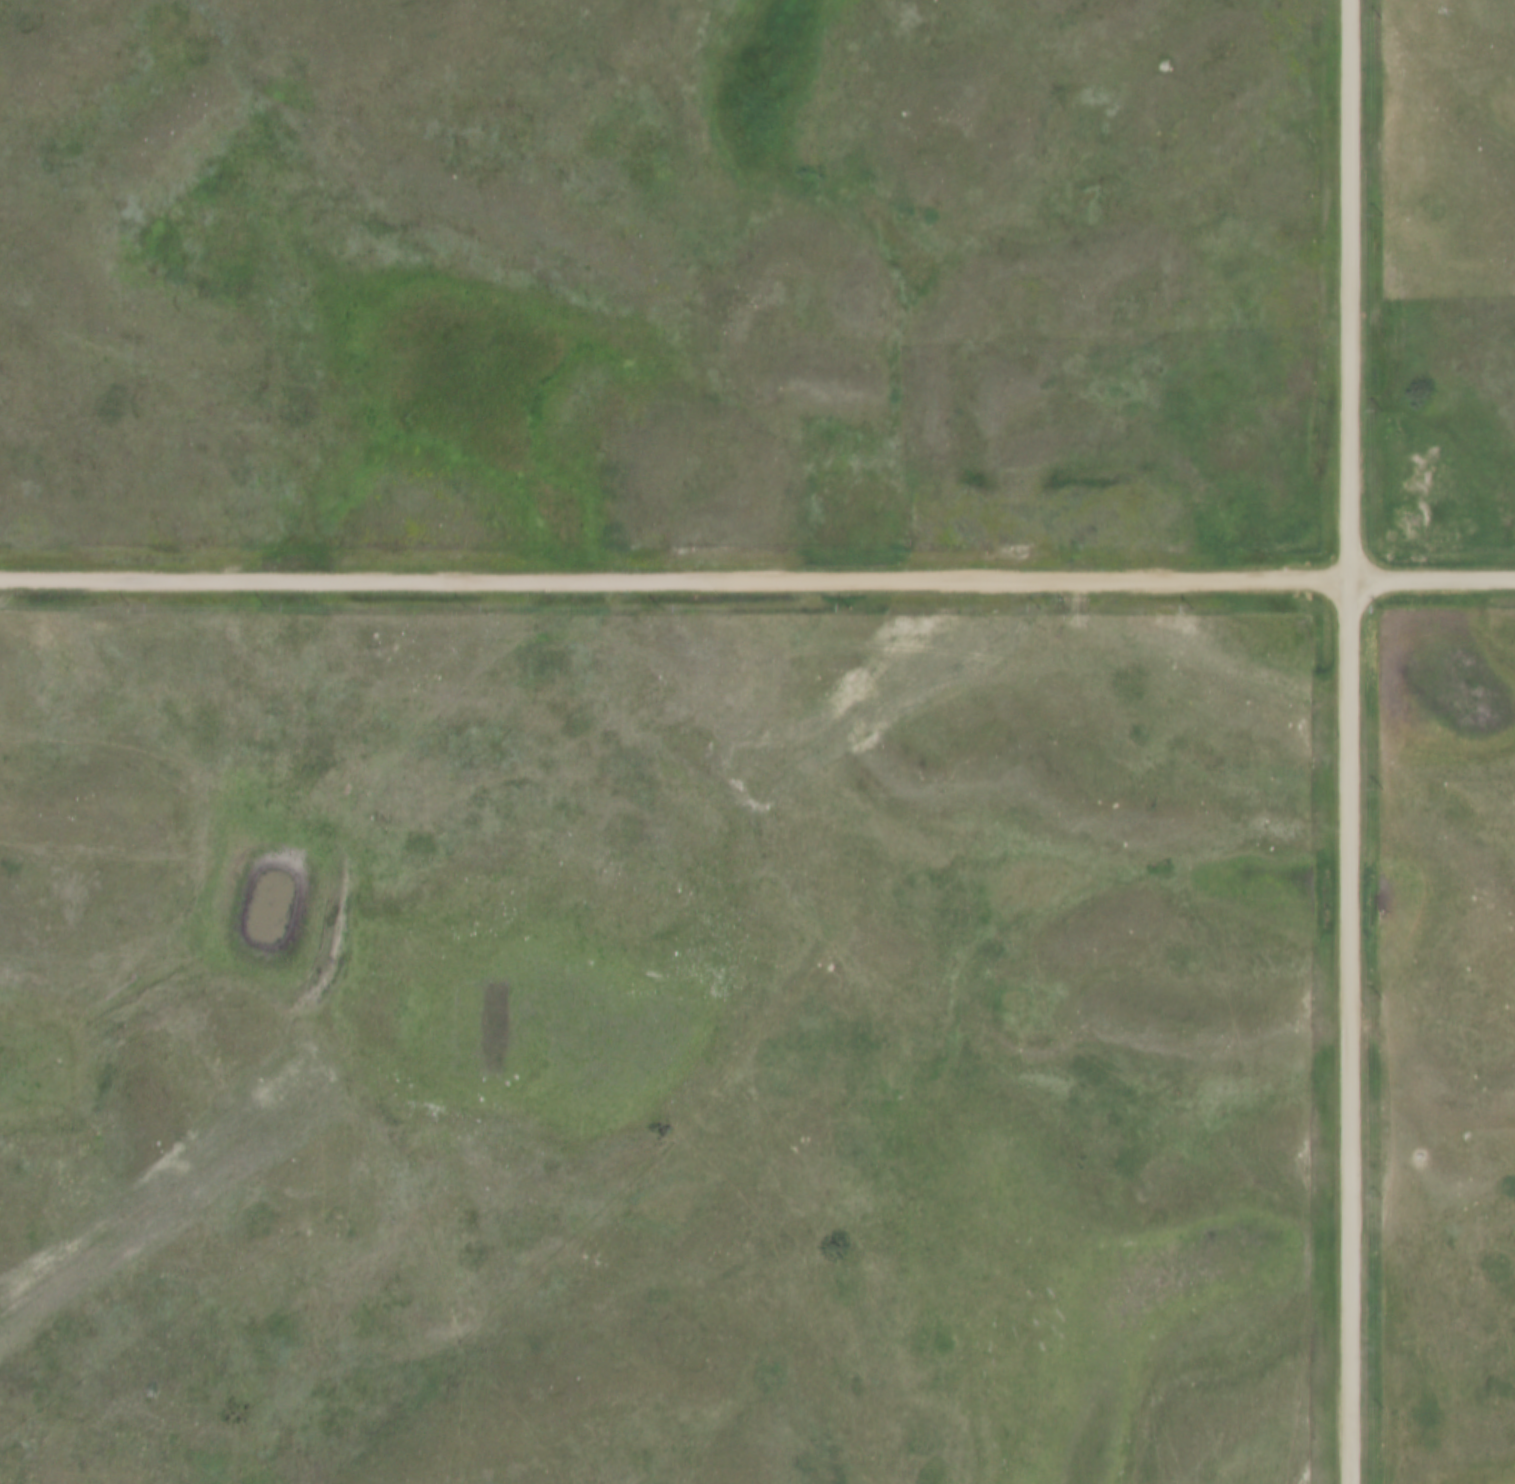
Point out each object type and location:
road: (1353, 290)
road: (684, 580)
road: (1425, 580)
road: (1508, 580)
road: (1350, 630)
road: (782, 653)
road: (1350, 1082)

